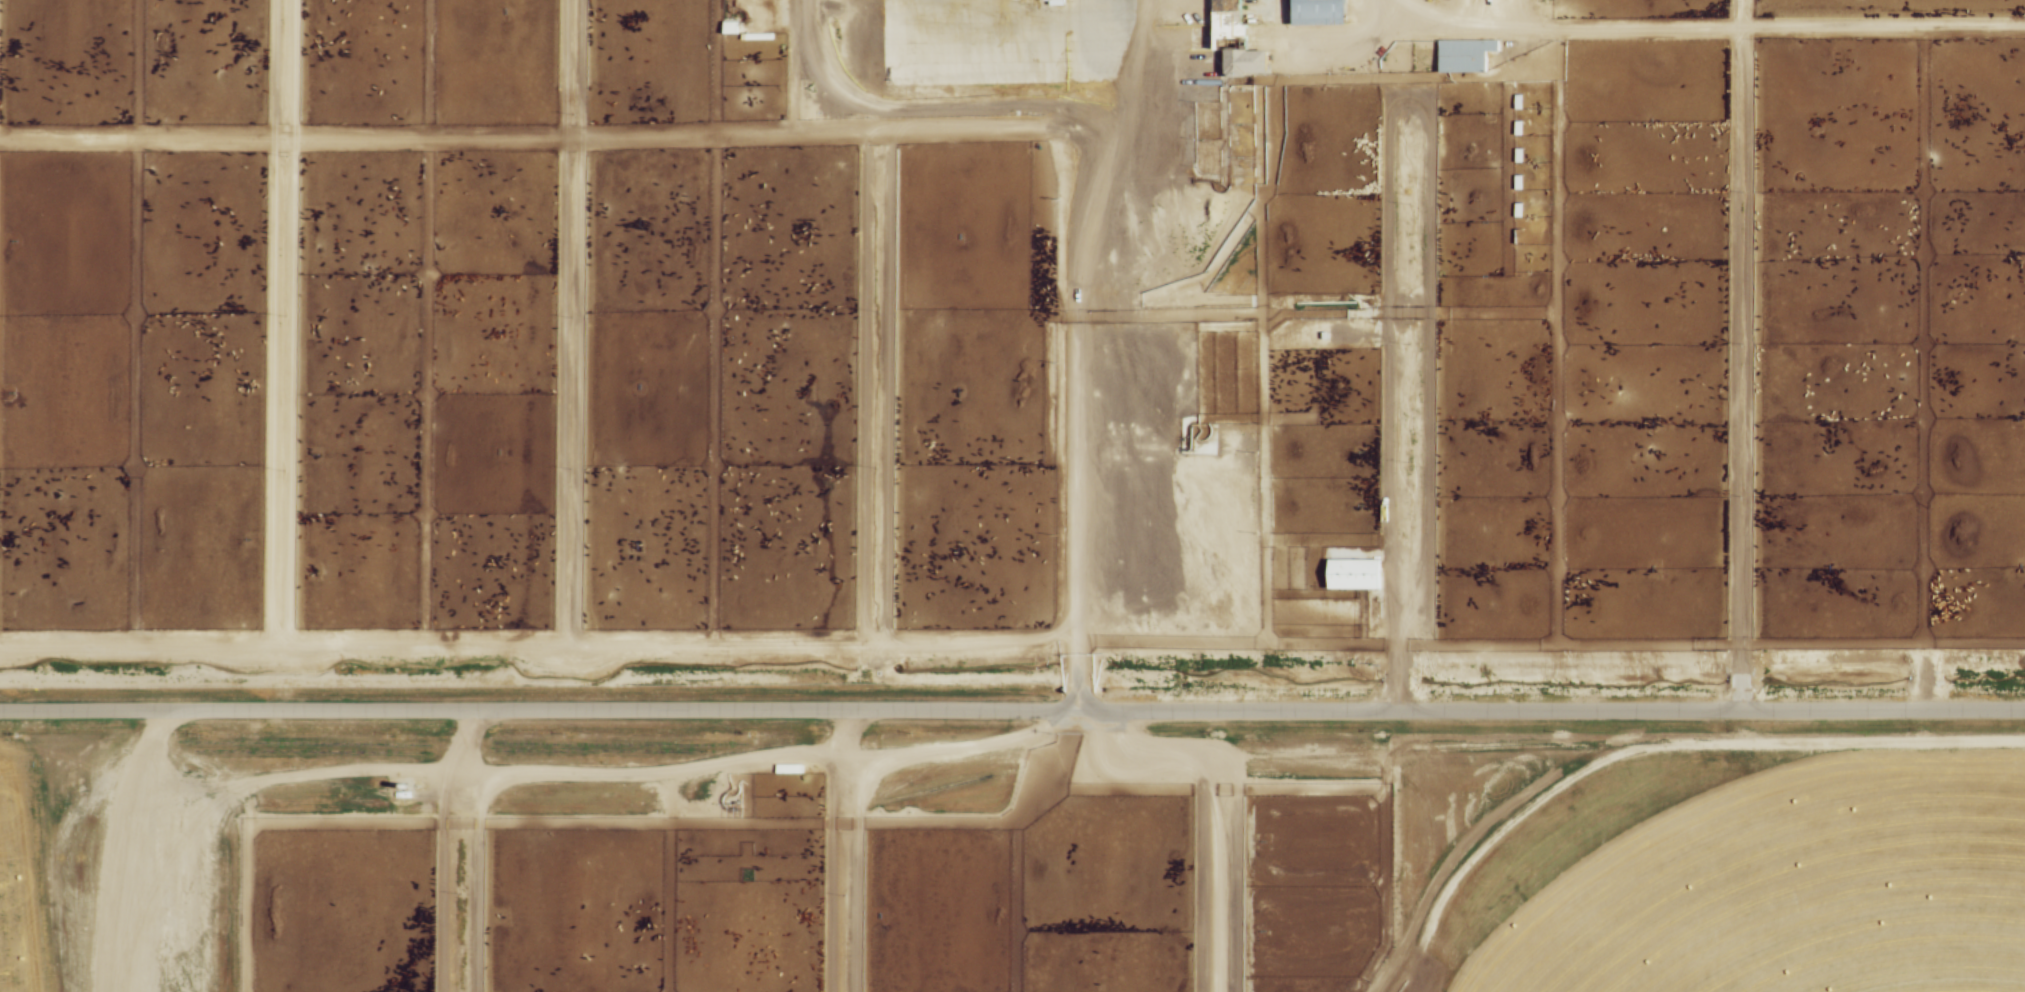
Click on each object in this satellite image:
building: (1316, 11)
building: (730, 26)
building: (1216, 28)
road: (1710, 31)
building: (1463, 56)
road: (791, 66)
road: (1407, 104)
road: (702, 134)
road: (278, 323)
road: (566, 323)
road: (1071, 351)
road: (1742, 357)
road: (860, 388)
road: (887, 388)
building: (1350, 574)
road: (869, 646)
road: (1012, 714)
road: (840, 737)
road: (607, 776)
building: (734, 809)
road: (1212, 812)
road: (102, 846)
road: (438, 850)
road: (855, 874)
road: (824, 875)
crop: (1731, 880)
crop: (22, 885)
road: (477, 885)
road: (233, 887)

